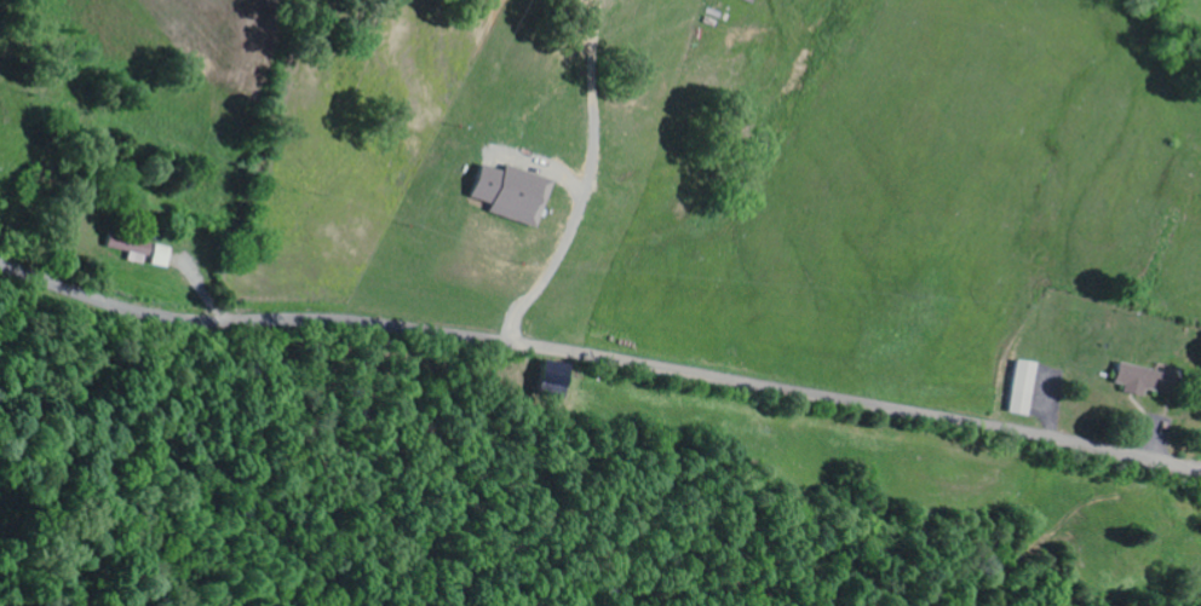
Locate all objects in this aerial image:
road: (570, 138)
building: (517, 194)
building: (133, 246)
building: (165, 256)
road: (599, 358)
building: (559, 380)
building: (1147, 380)
building: (1027, 388)

